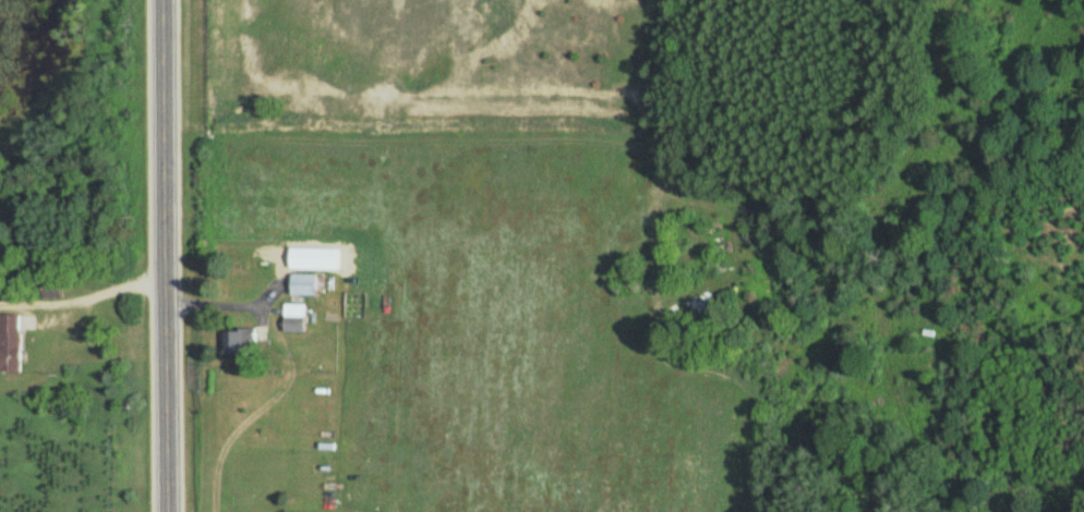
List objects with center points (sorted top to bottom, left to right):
road: (172, 256)
building: (306, 284)
building: (297, 318)
building: (240, 341)
building: (11, 343)

